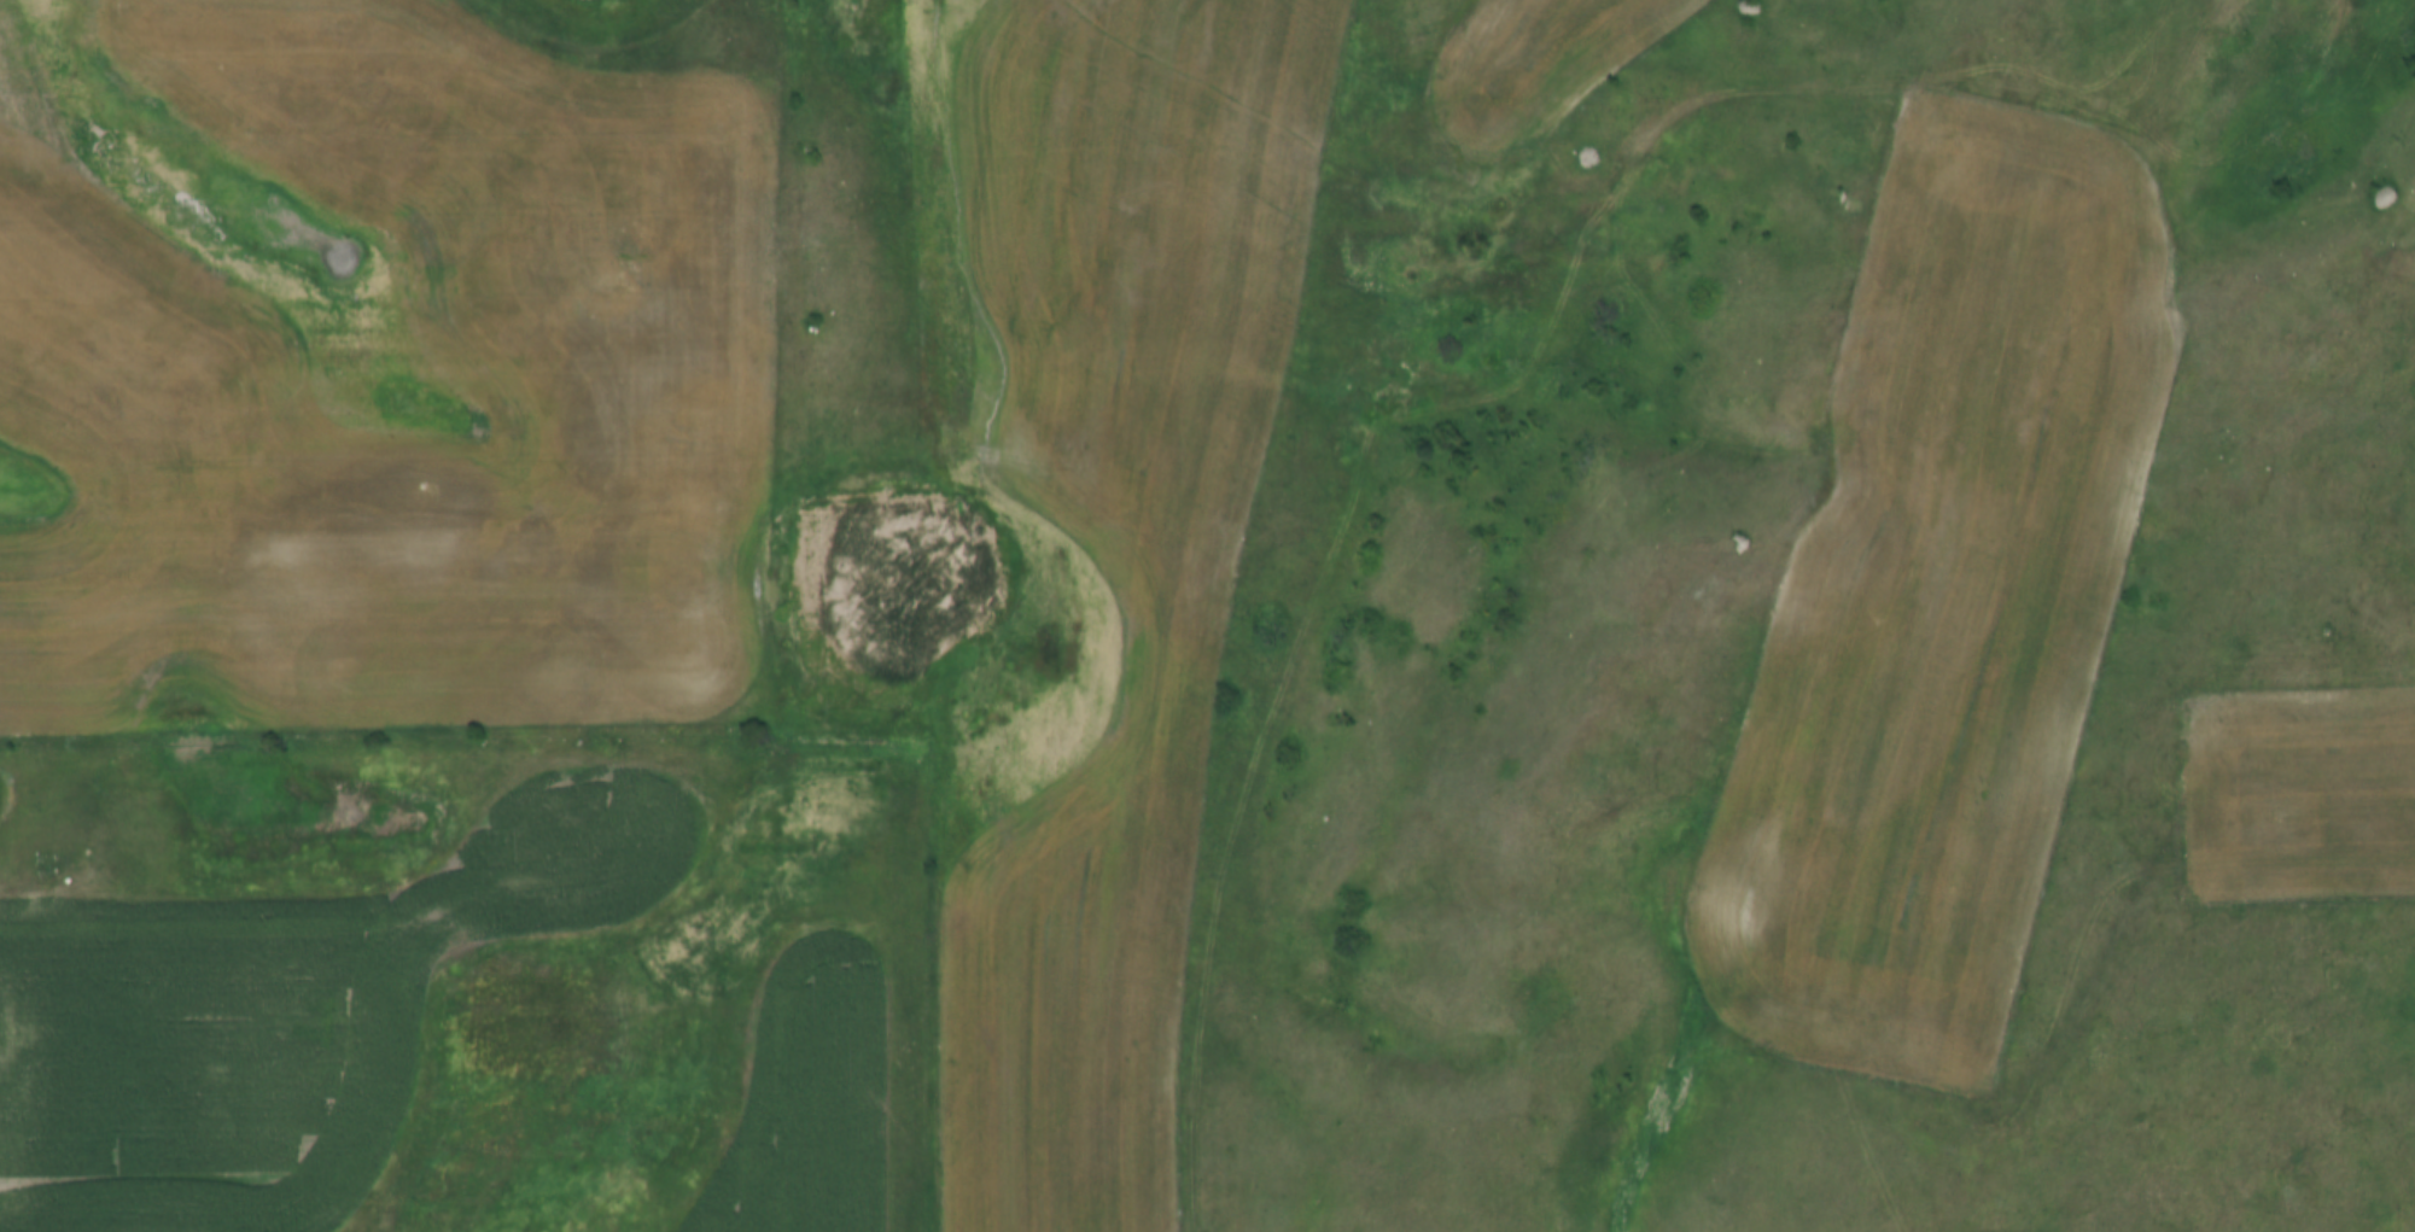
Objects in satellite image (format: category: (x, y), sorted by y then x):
road: (367, 57)
road: (924, 306)

